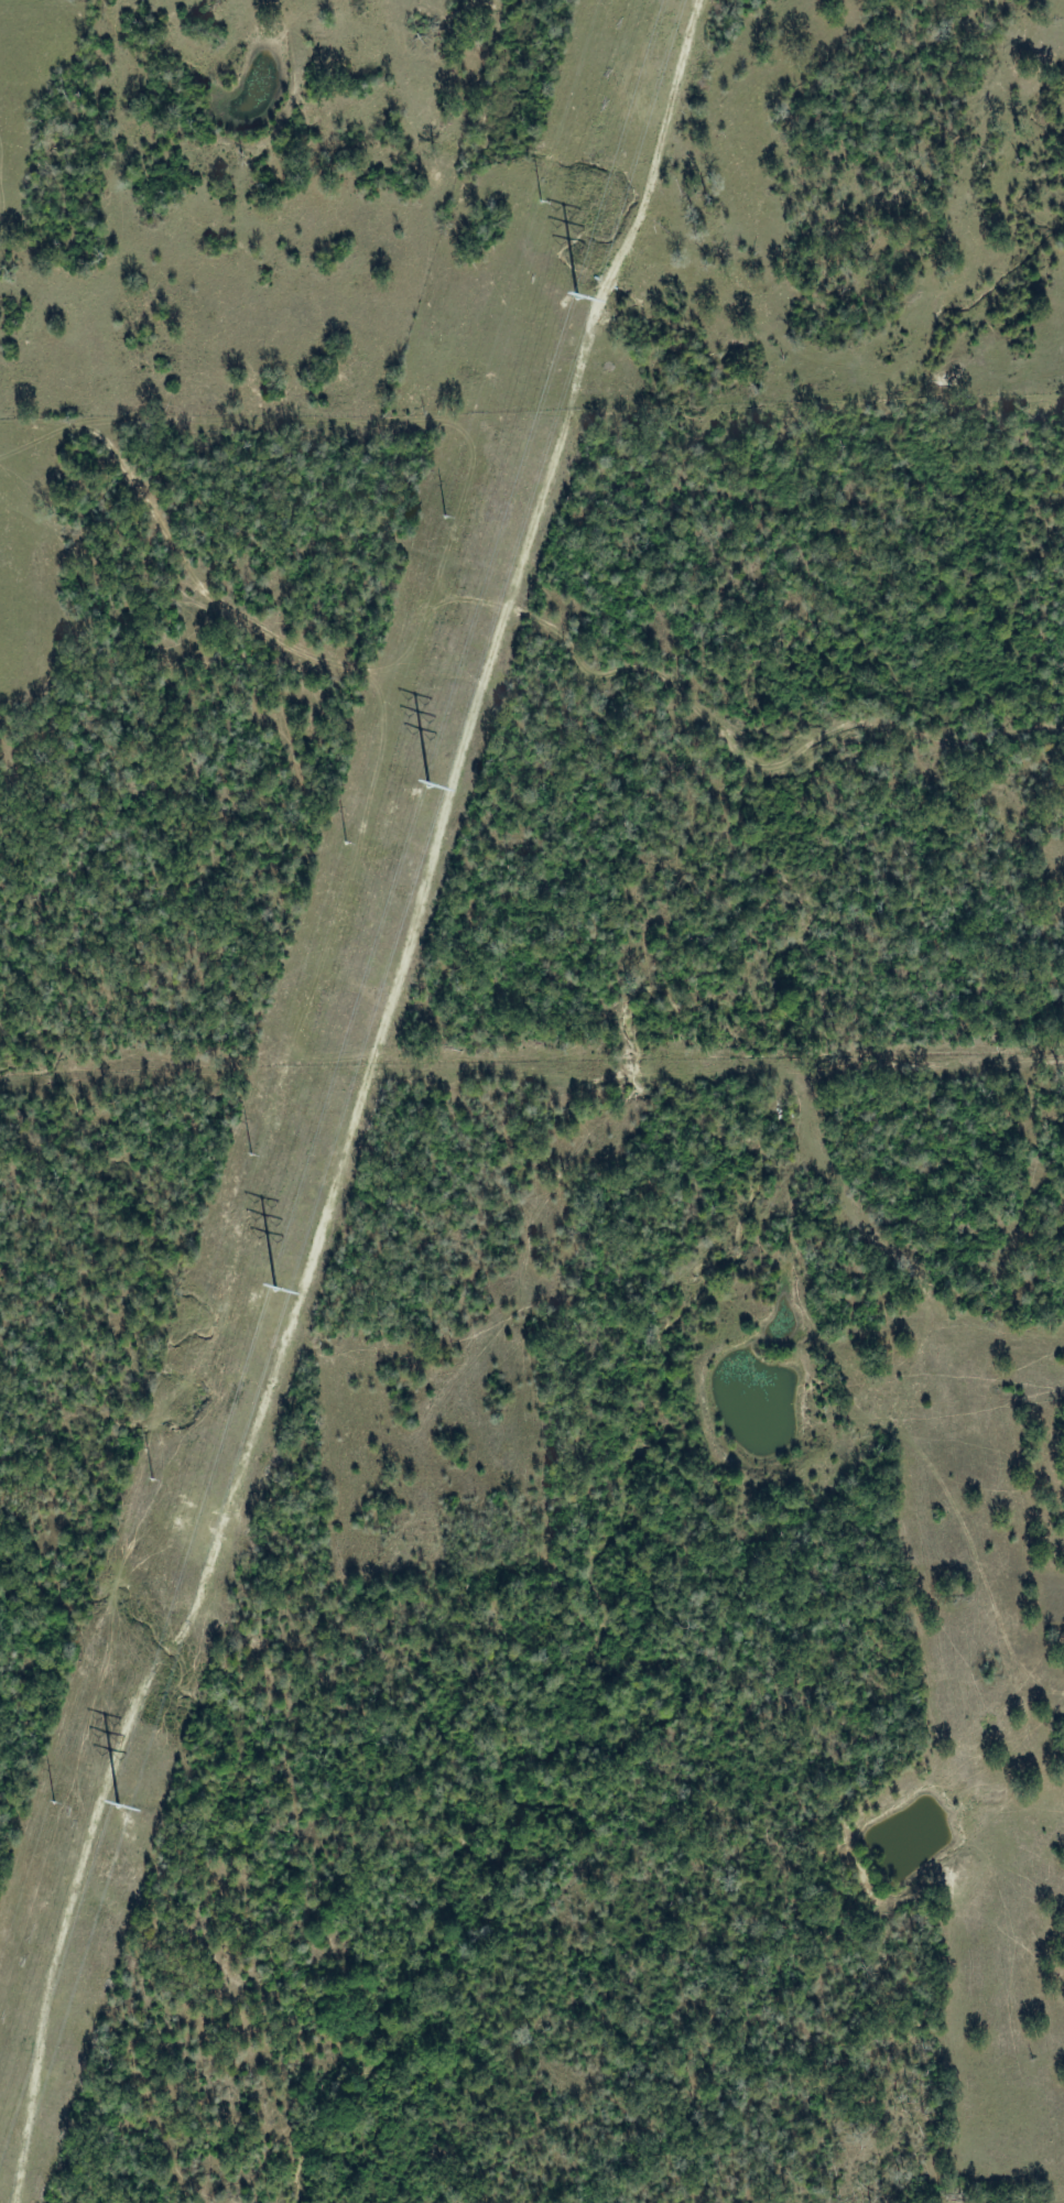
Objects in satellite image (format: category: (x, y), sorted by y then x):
power tower: (539, 204)
power tower: (443, 520)
power tower: (344, 844)
power tower: (248, 1154)
power tower: (152, 1479)
power tower: (52, 1803)

